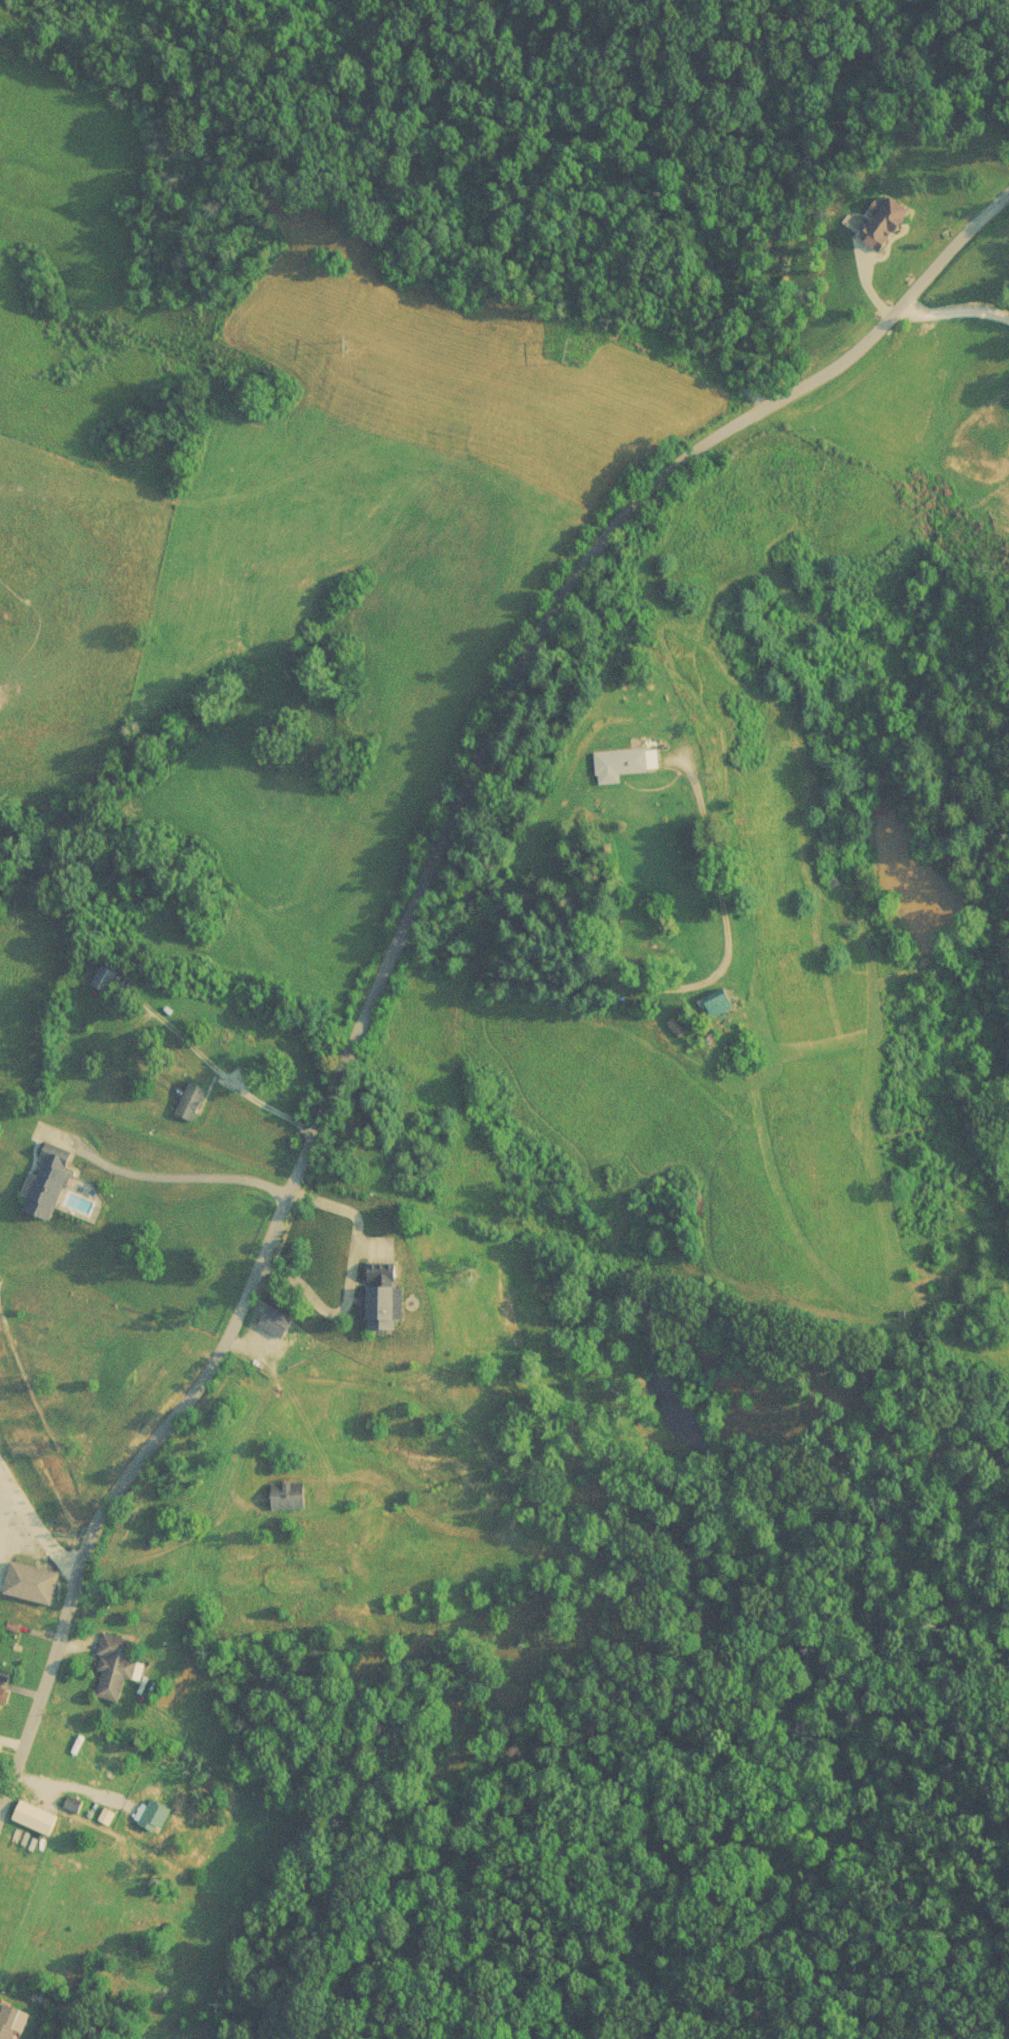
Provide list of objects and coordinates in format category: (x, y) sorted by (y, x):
road: (950, 313)
road: (617, 861)
road: (404, 935)
road: (171, 1181)
road: (2, 1508)
road: (1, 1517)
road: (38, 1522)

